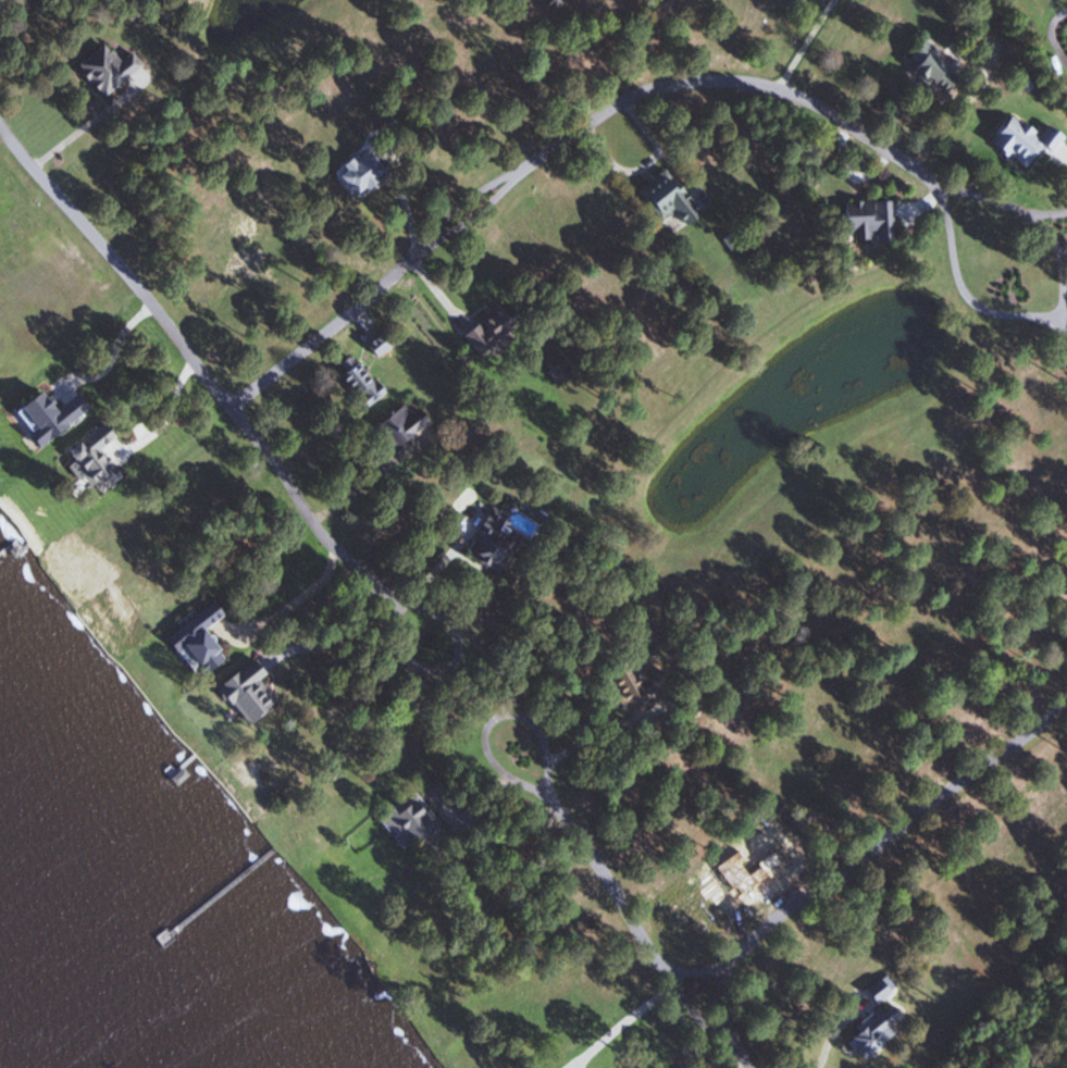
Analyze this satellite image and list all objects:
road: (805, 45)
building: (938, 64)
building: (113, 69)
road: (75, 134)
road: (560, 140)
building: (367, 173)
building: (672, 199)
building: (873, 221)
road: (1063, 244)
road: (1054, 313)
road: (1063, 320)
building: (496, 327)
road: (198, 364)
building: (363, 384)
building: (404, 426)
building: (497, 542)
building: (207, 636)
road: (451, 667)
building: (641, 687)
road: (493, 719)
building: (412, 822)
road: (891, 833)
road: (640, 936)
road: (686, 970)
building: (883, 990)
road: (720, 1001)
road: (834, 1029)
building: (878, 1031)
road: (737, 1064)

